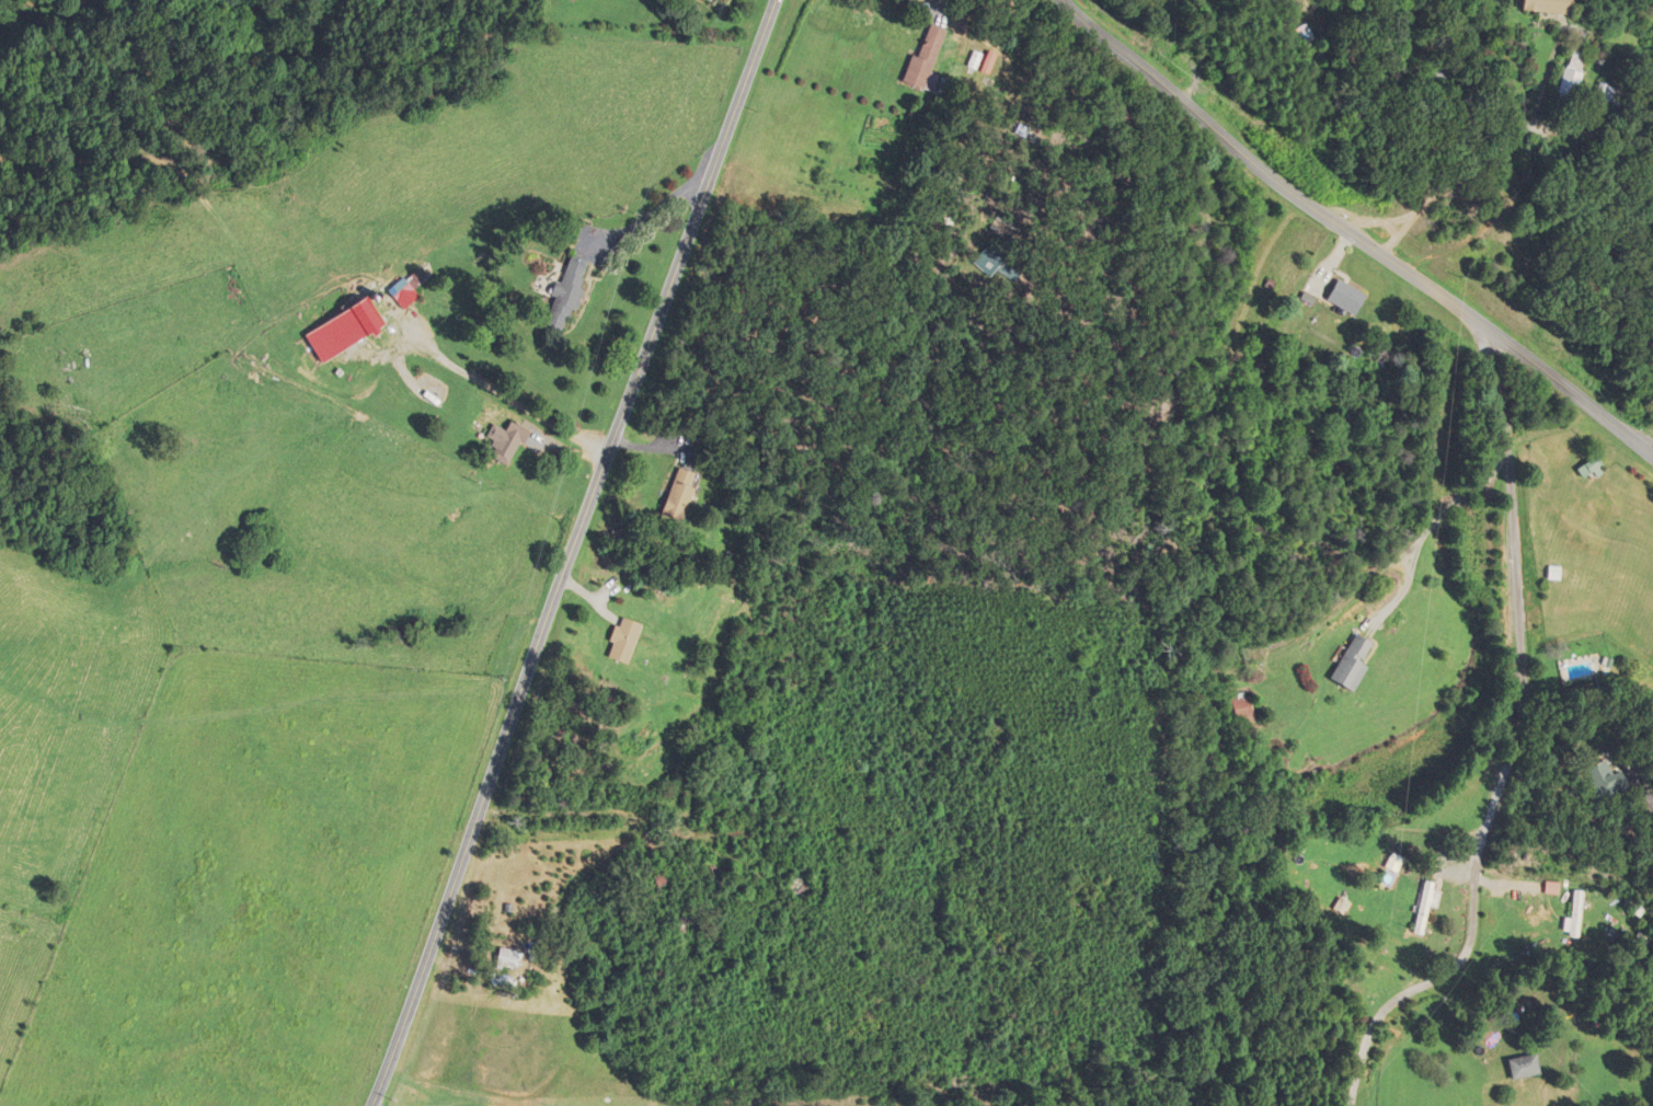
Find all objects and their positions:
building: (713, 0)
building: (1546, 5)
building: (1305, 37)
building: (927, 58)
building: (1574, 74)
building: (1606, 93)
road: (1353, 233)
building: (996, 257)
building: (402, 290)
building: (565, 292)
building: (1346, 297)
building: (346, 333)
road: (502, 394)
road: (535, 428)
road: (1642, 435)
road: (1648, 438)
building: (504, 442)
building: (1585, 469)
building: (678, 494)
road: (575, 552)
building: (621, 640)
building: (1357, 665)
building: (1250, 710)
road: (1515, 738)
building: (1606, 781)
building: (804, 884)
building: (1428, 908)
building: (1582, 914)
building: (508, 958)
building: (1526, 1067)

